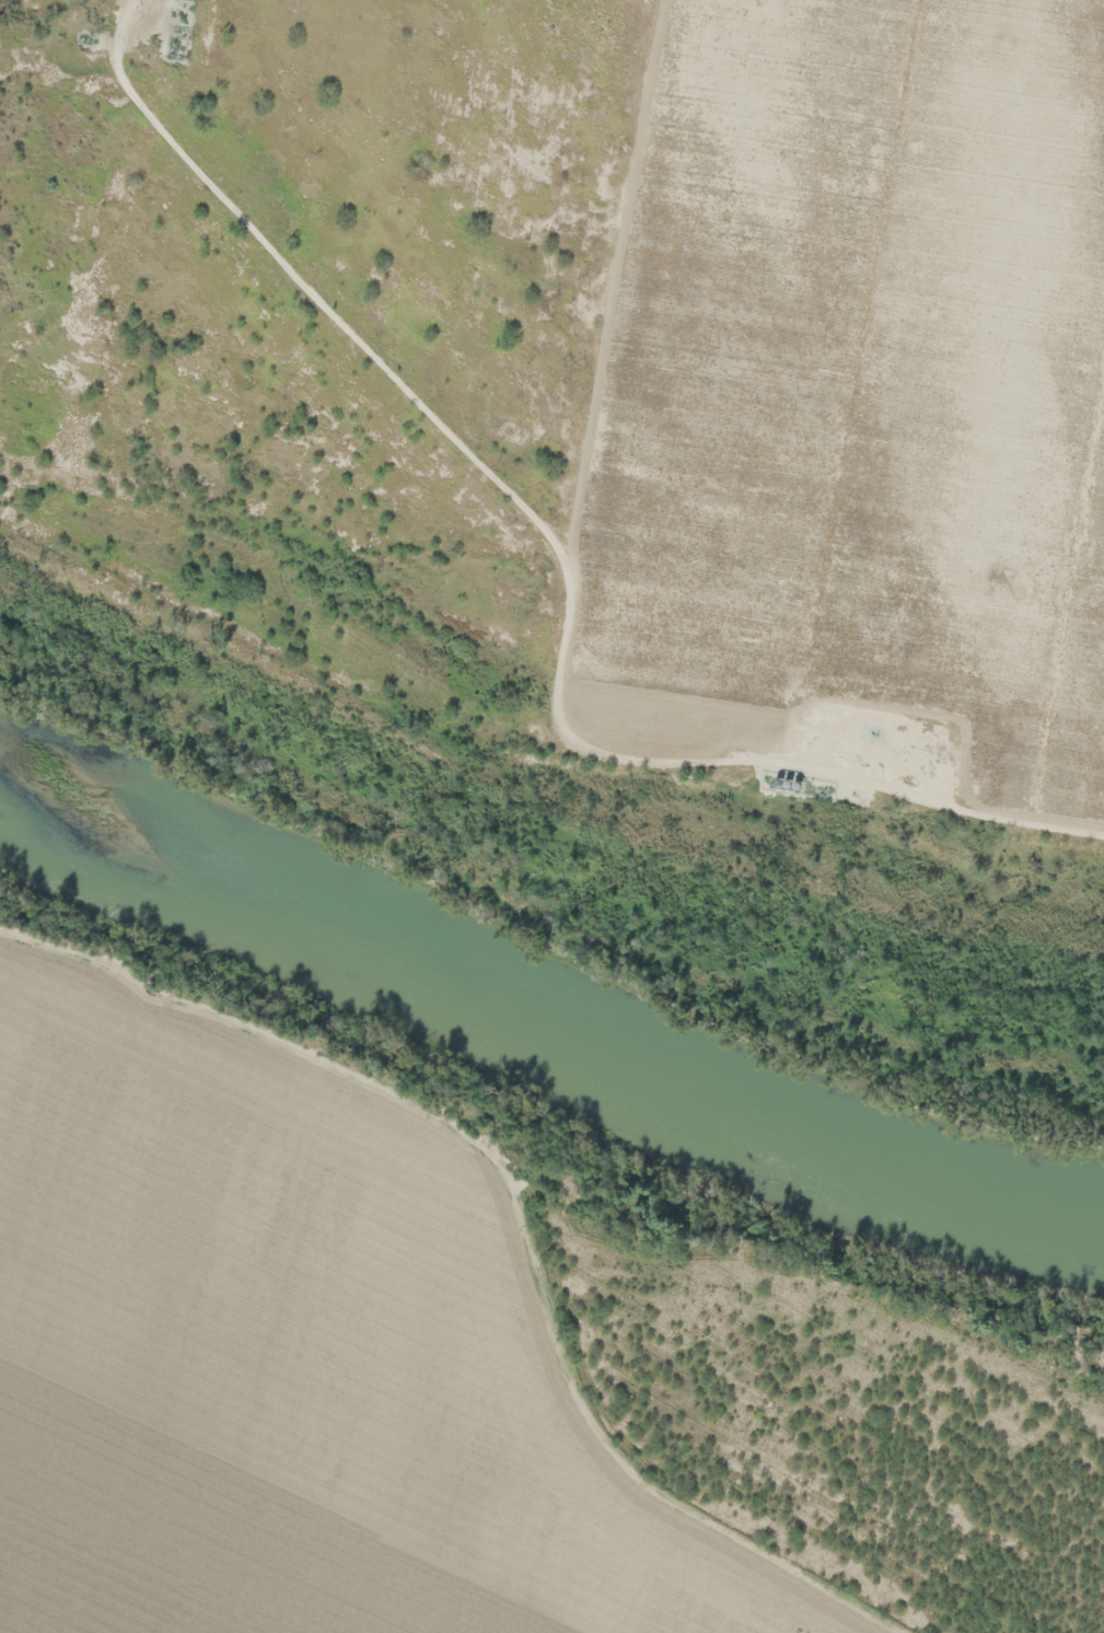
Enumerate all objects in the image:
road: (319, 298)
road: (562, 646)
river: (537, 1022)

